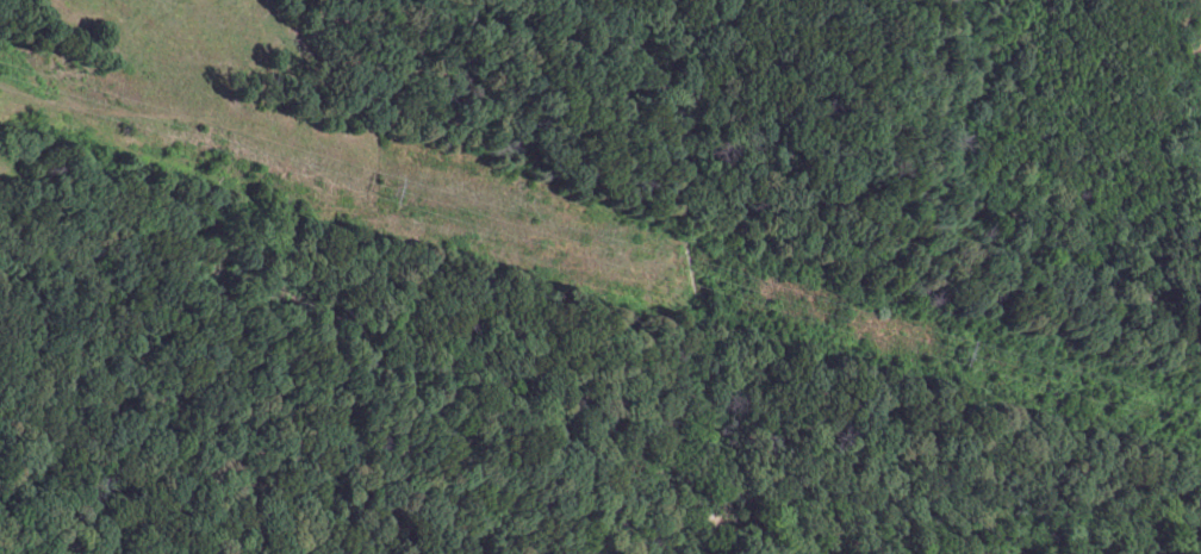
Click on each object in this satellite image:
power tower: (380, 188)
power tower: (951, 351)

